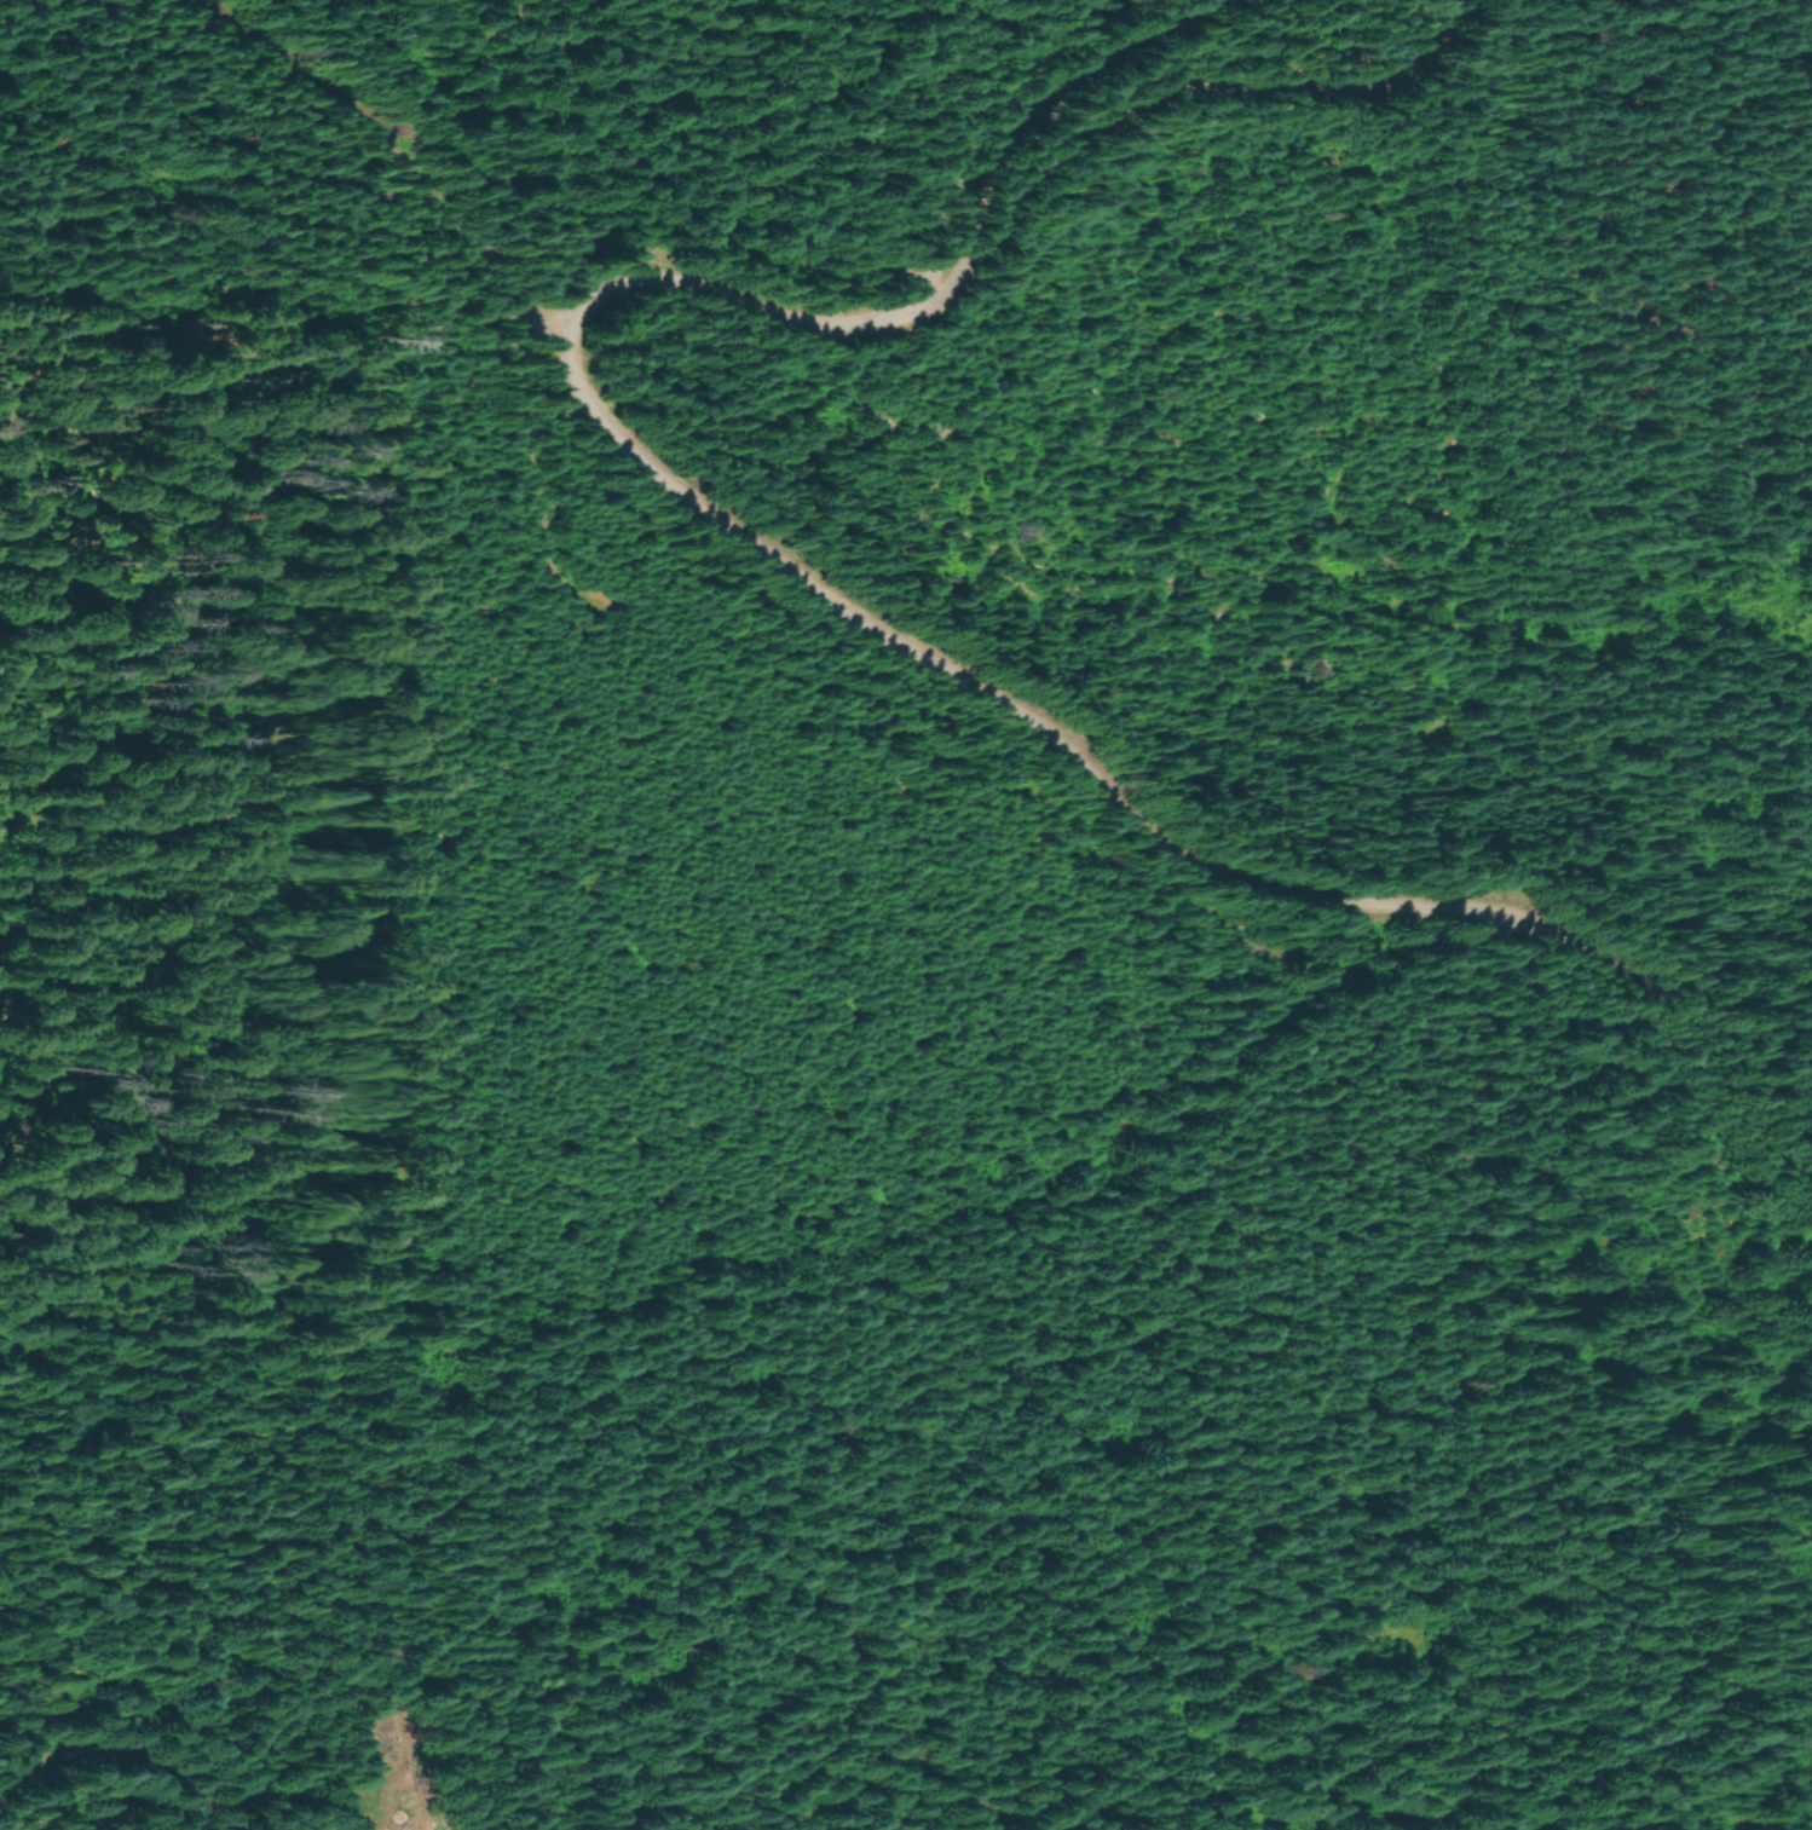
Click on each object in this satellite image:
road: (1147, 106)
road: (403, 161)
road: (814, 596)
road: (121, 1757)

